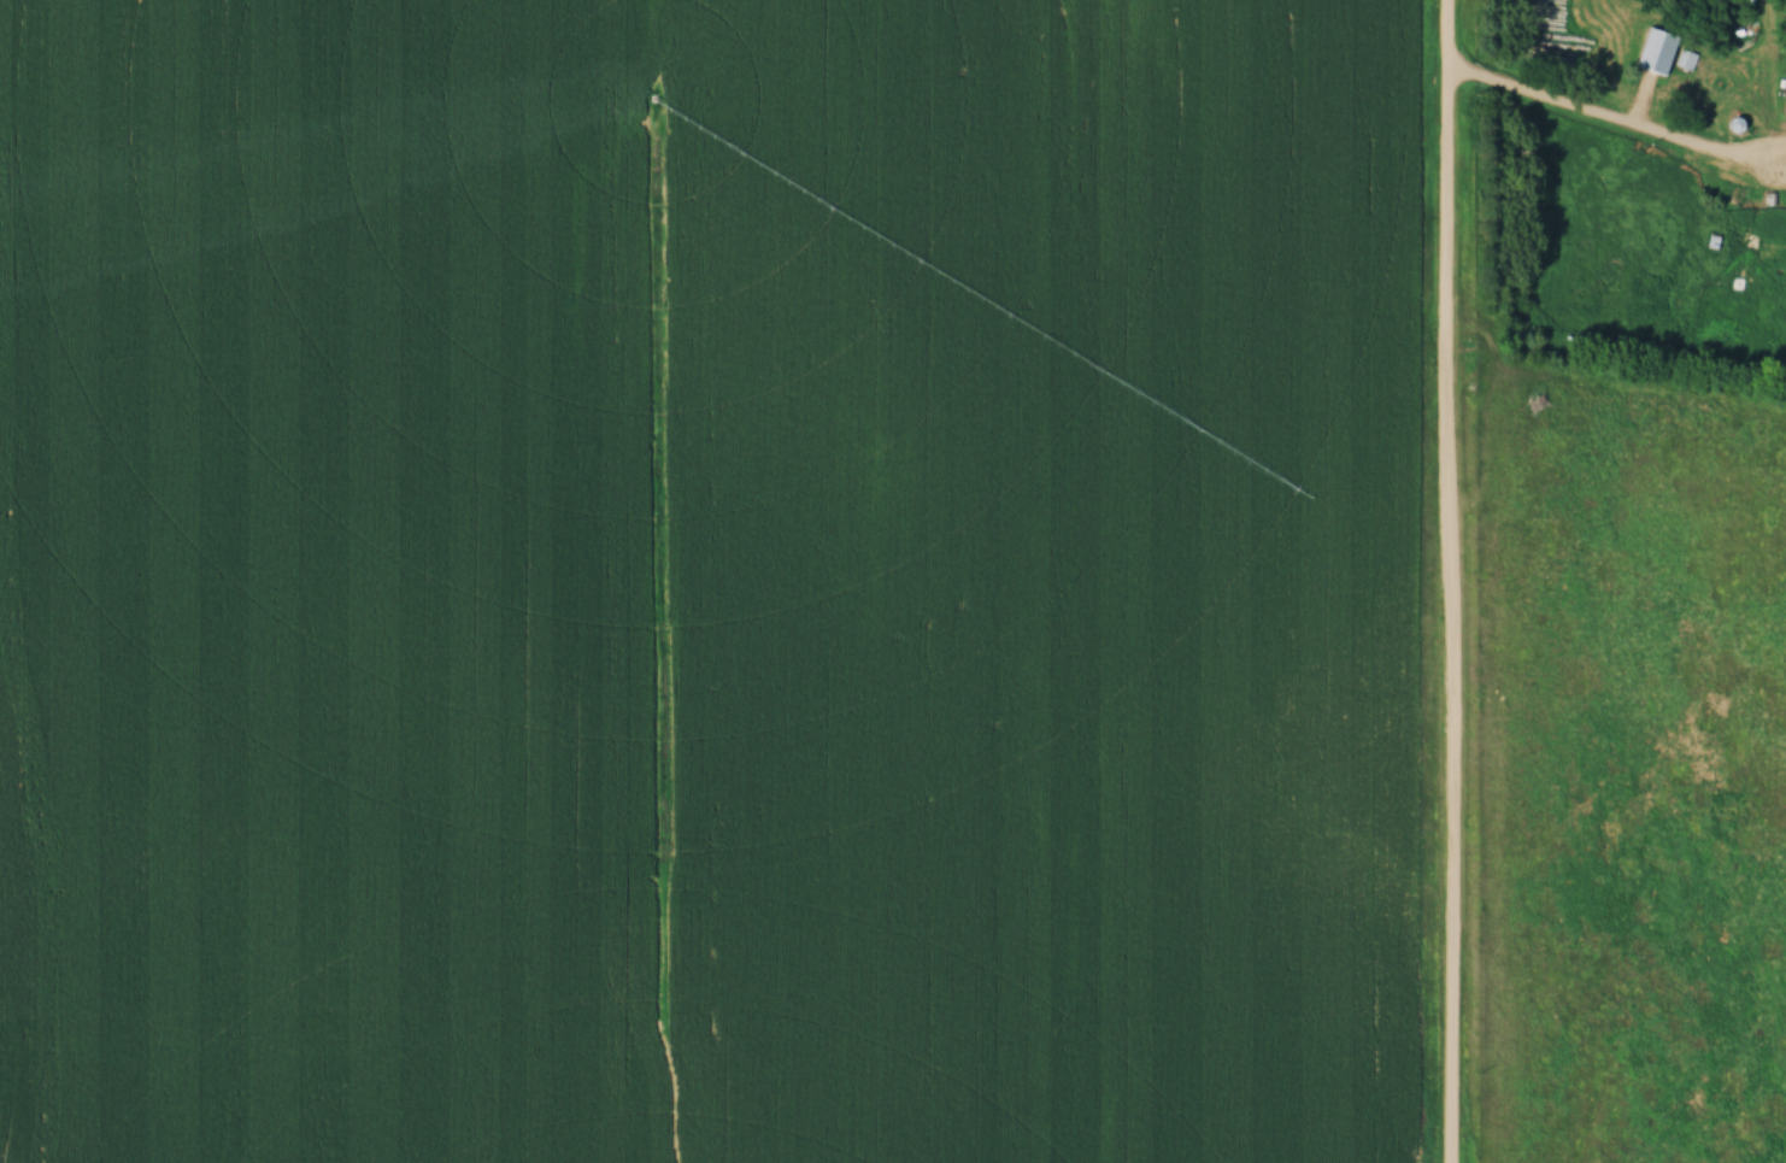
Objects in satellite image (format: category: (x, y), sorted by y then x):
building: (1668, 51)
road: (1616, 123)
road: (1449, 581)

